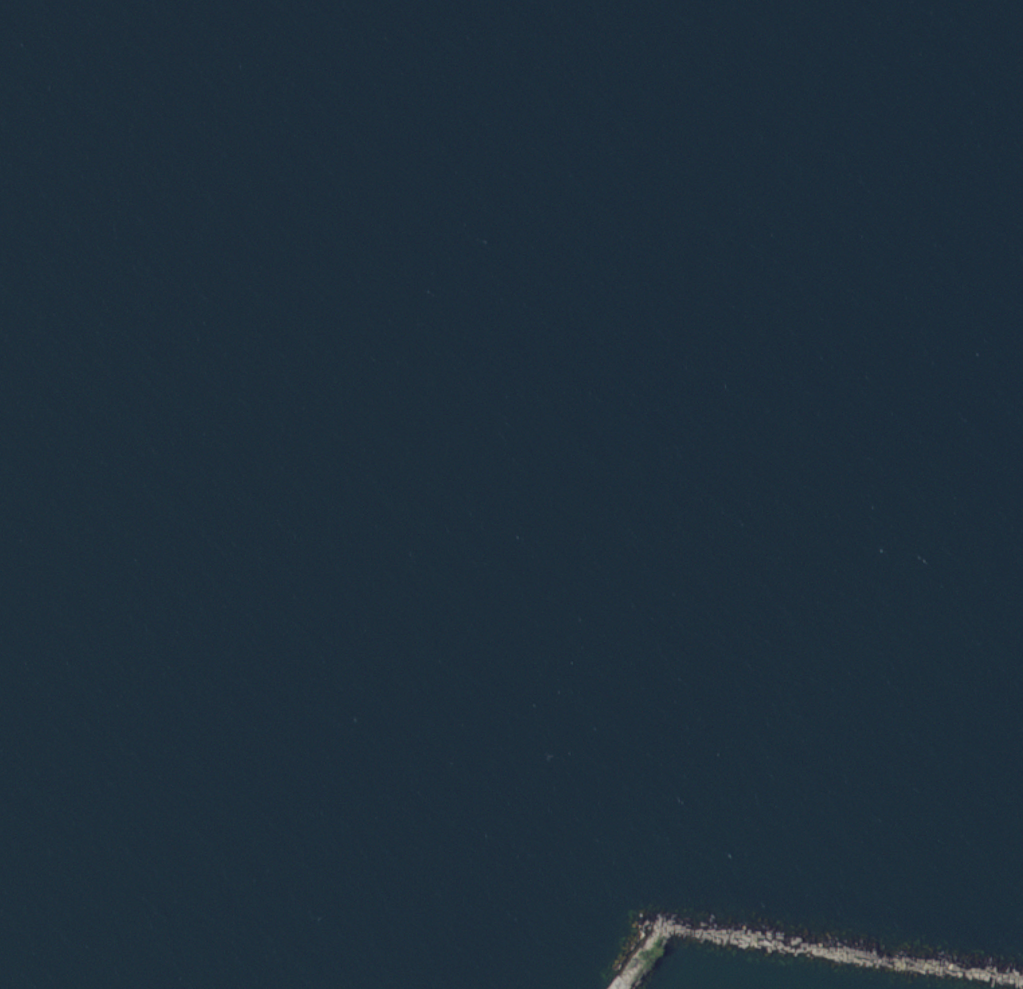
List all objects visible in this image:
pier: (620, 985)

